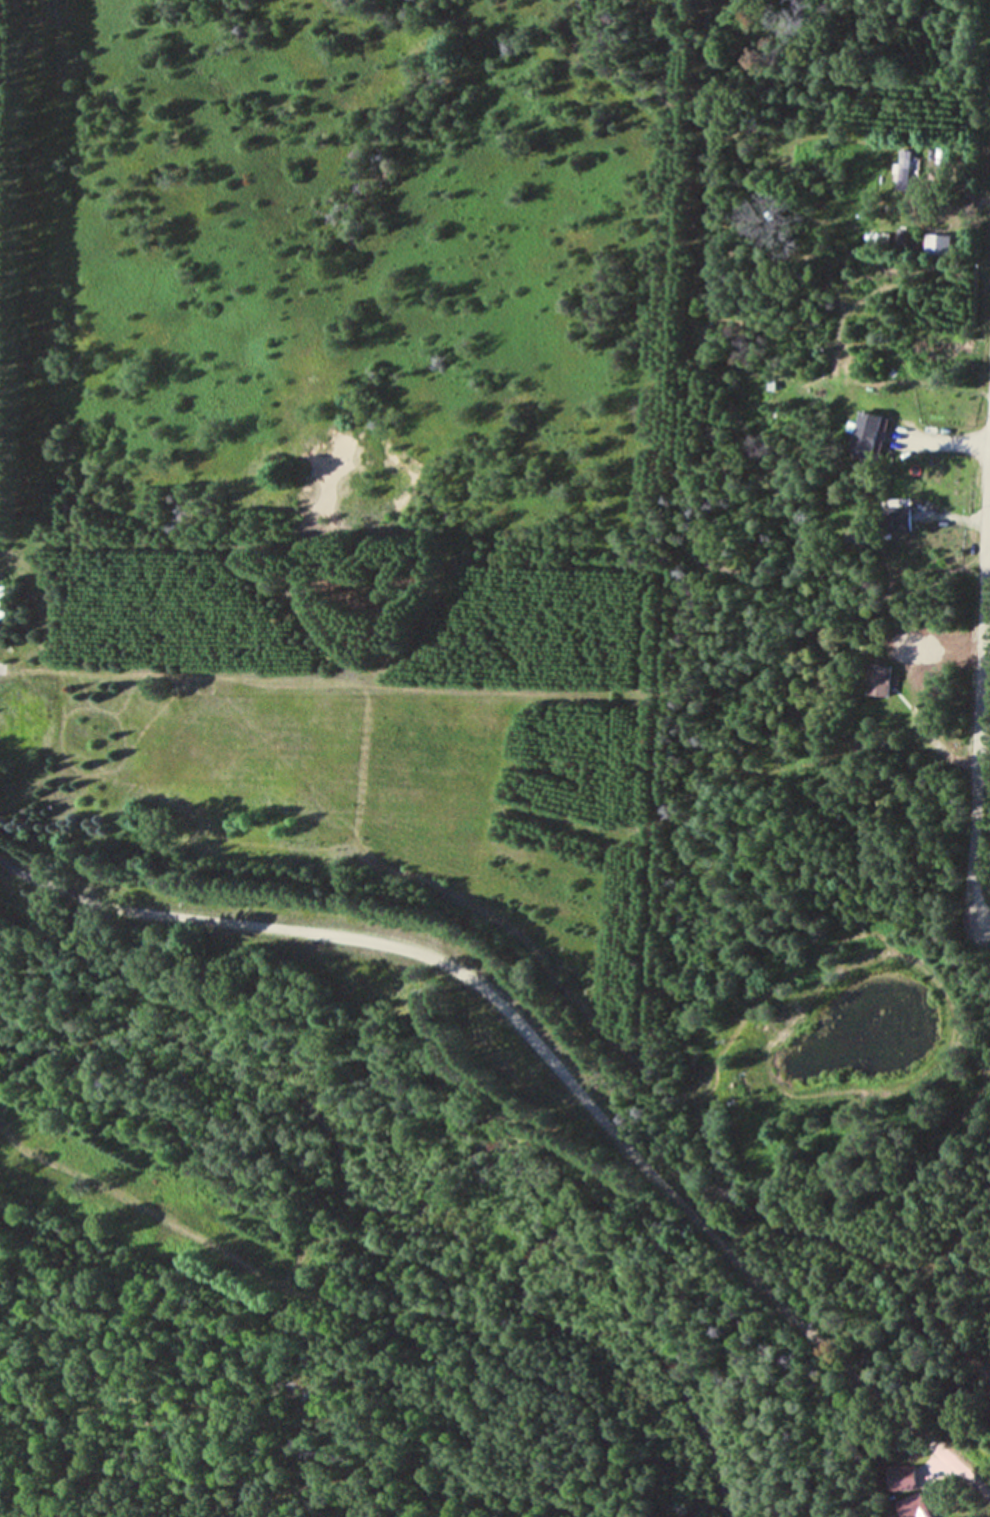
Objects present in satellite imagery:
building: (905, 170)
building: (872, 437)
road: (950, 442)
building: (0, 599)
building: (882, 681)
road: (980, 685)
road: (948, 758)
road: (65, 891)
road: (602, 1123)
building: (913, 1507)

